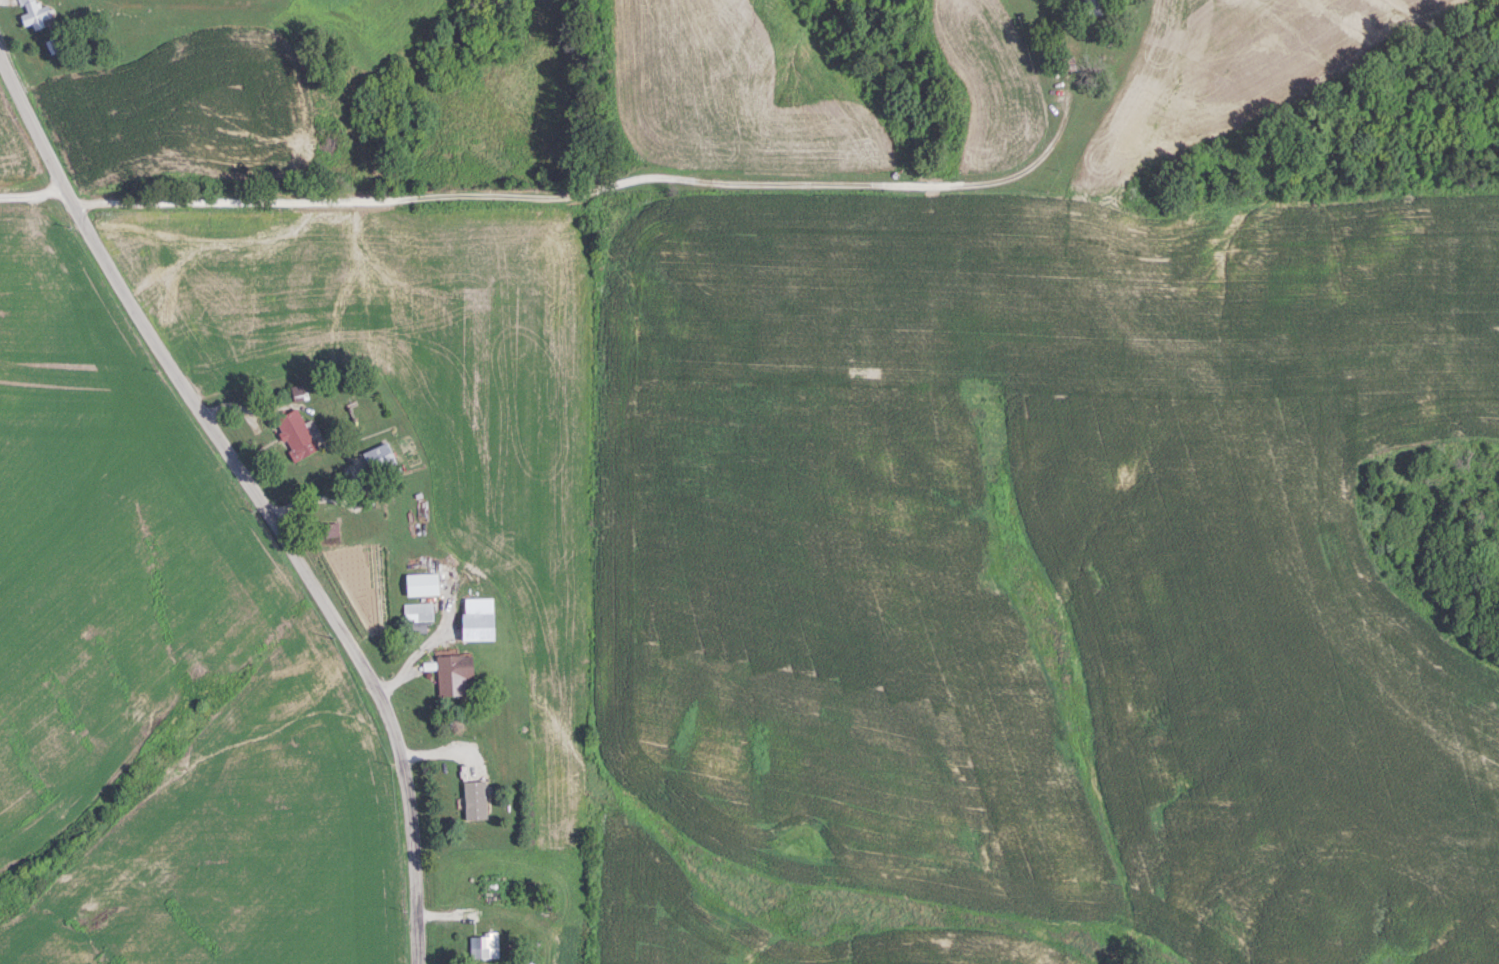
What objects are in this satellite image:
building: (1091, 7)
building: (34, 13)
road: (34, 192)
road: (631, 217)
building: (296, 434)
building: (381, 457)
road: (257, 491)
building: (329, 529)
building: (424, 583)
building: (419, 614)
building: (480, 617)
building: (455, 672)
building: (476, 796)
building: (484, 944)

